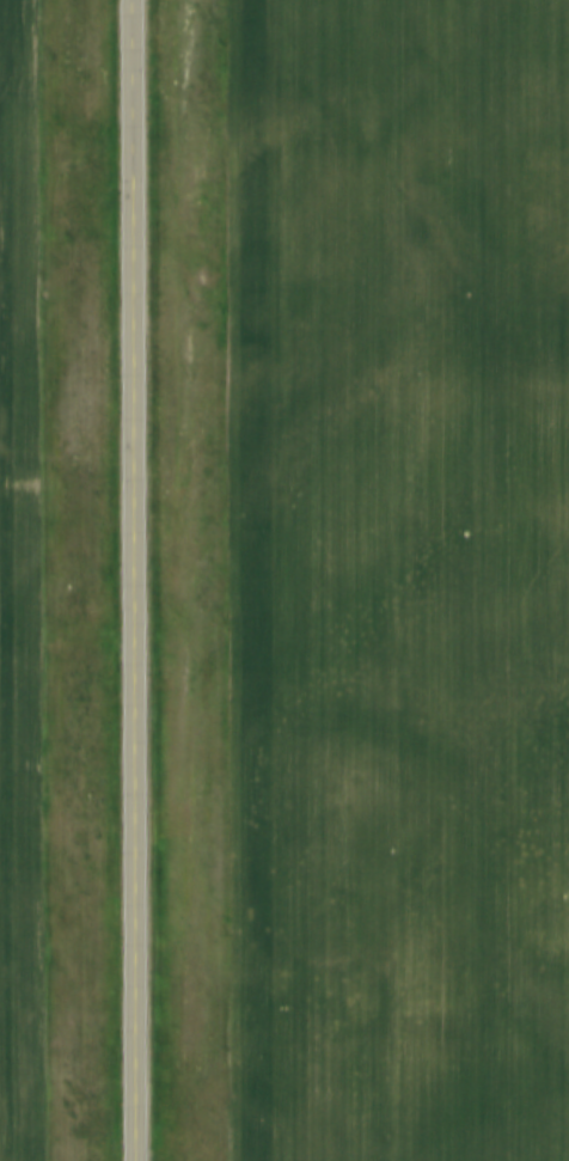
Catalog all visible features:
road: (134, 580)

